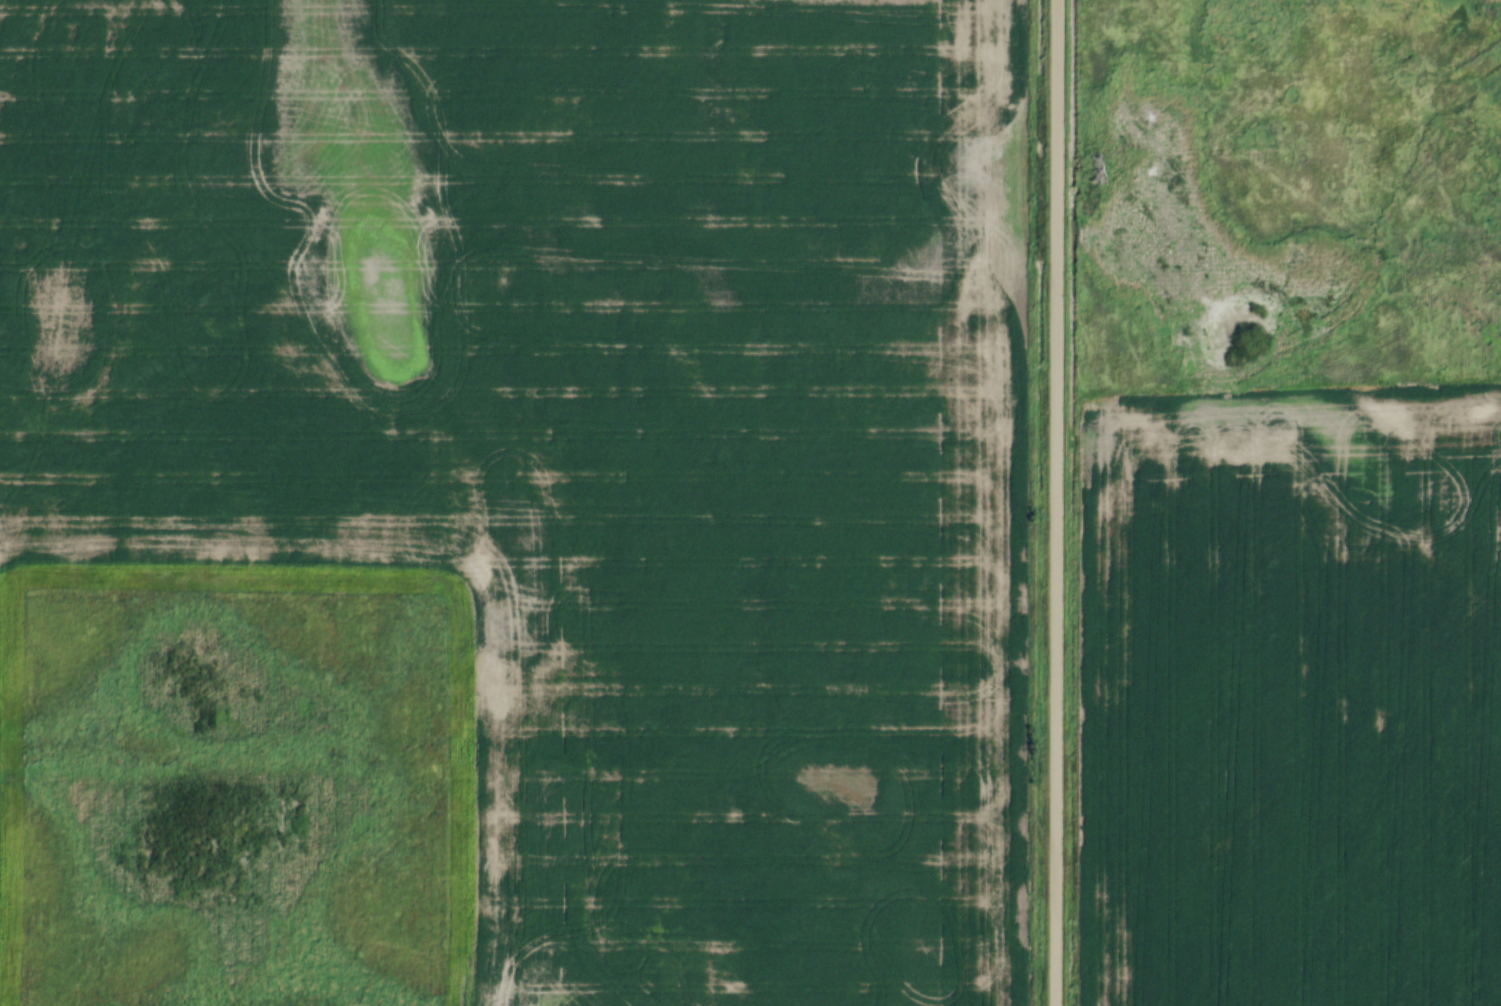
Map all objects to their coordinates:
road: (1057, 502)

